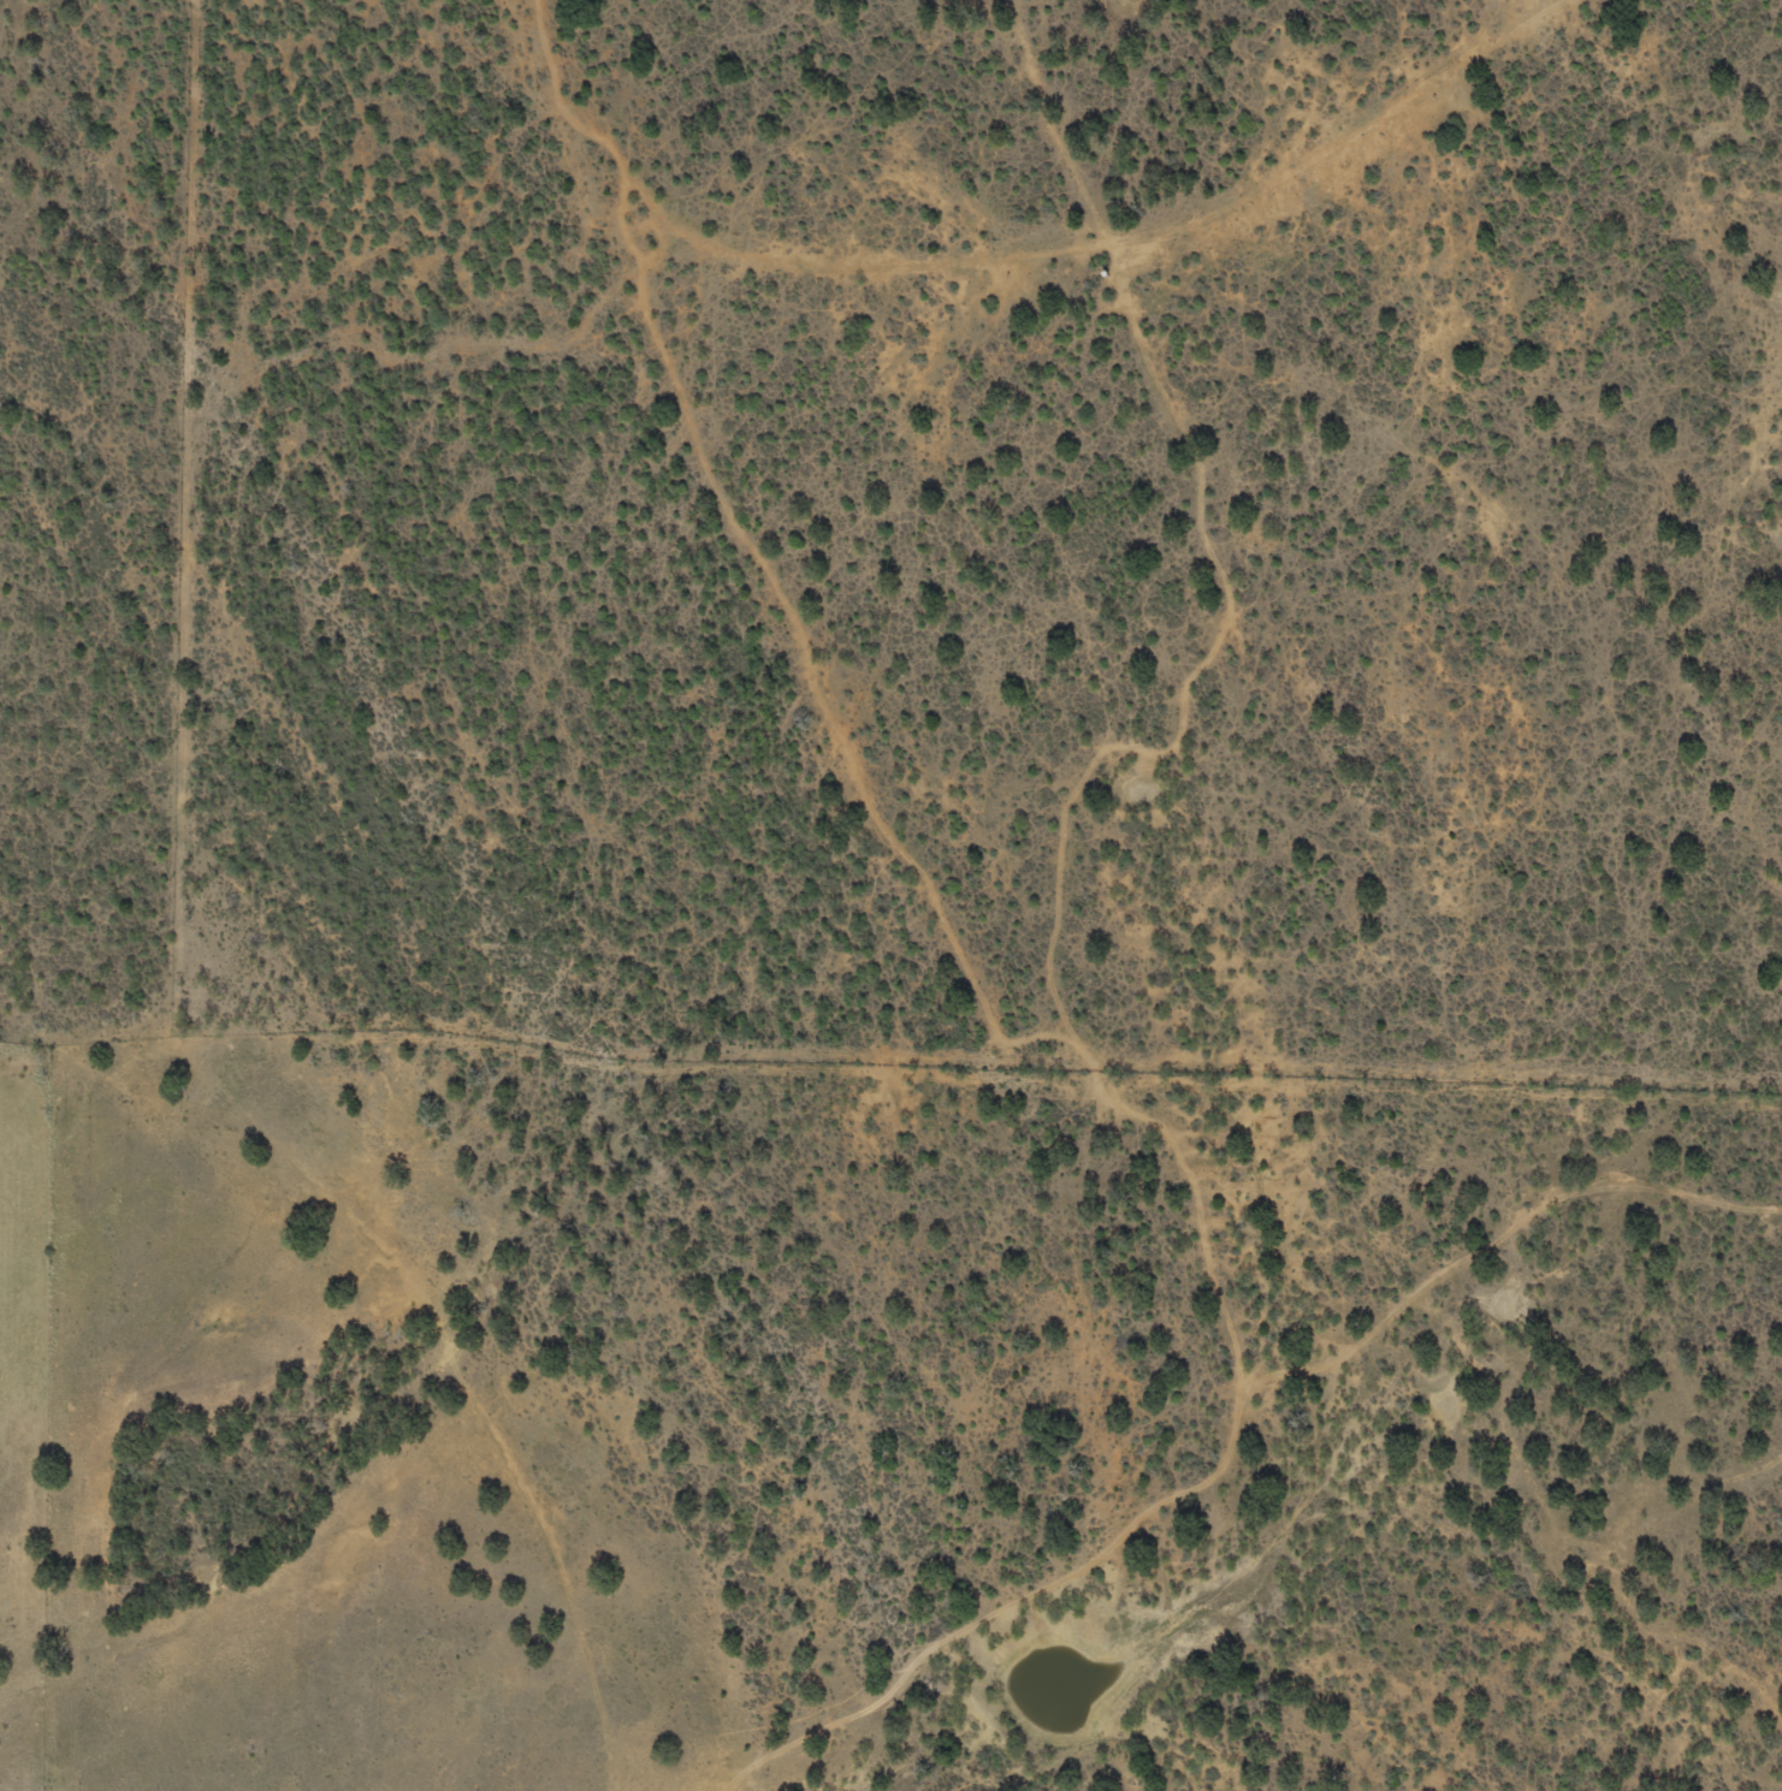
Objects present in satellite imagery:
road: (1037, 242)

